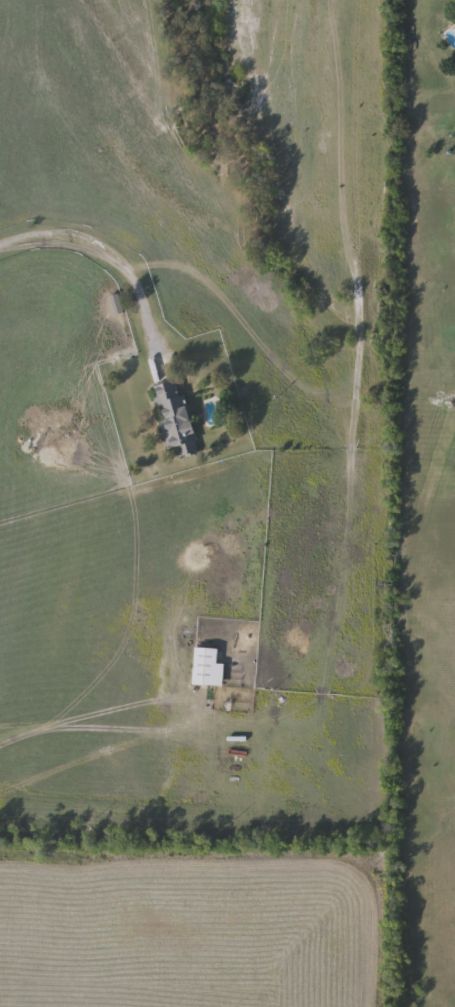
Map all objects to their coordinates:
road: (97, 251)
building: (175, 420)
building: (206, 668)

